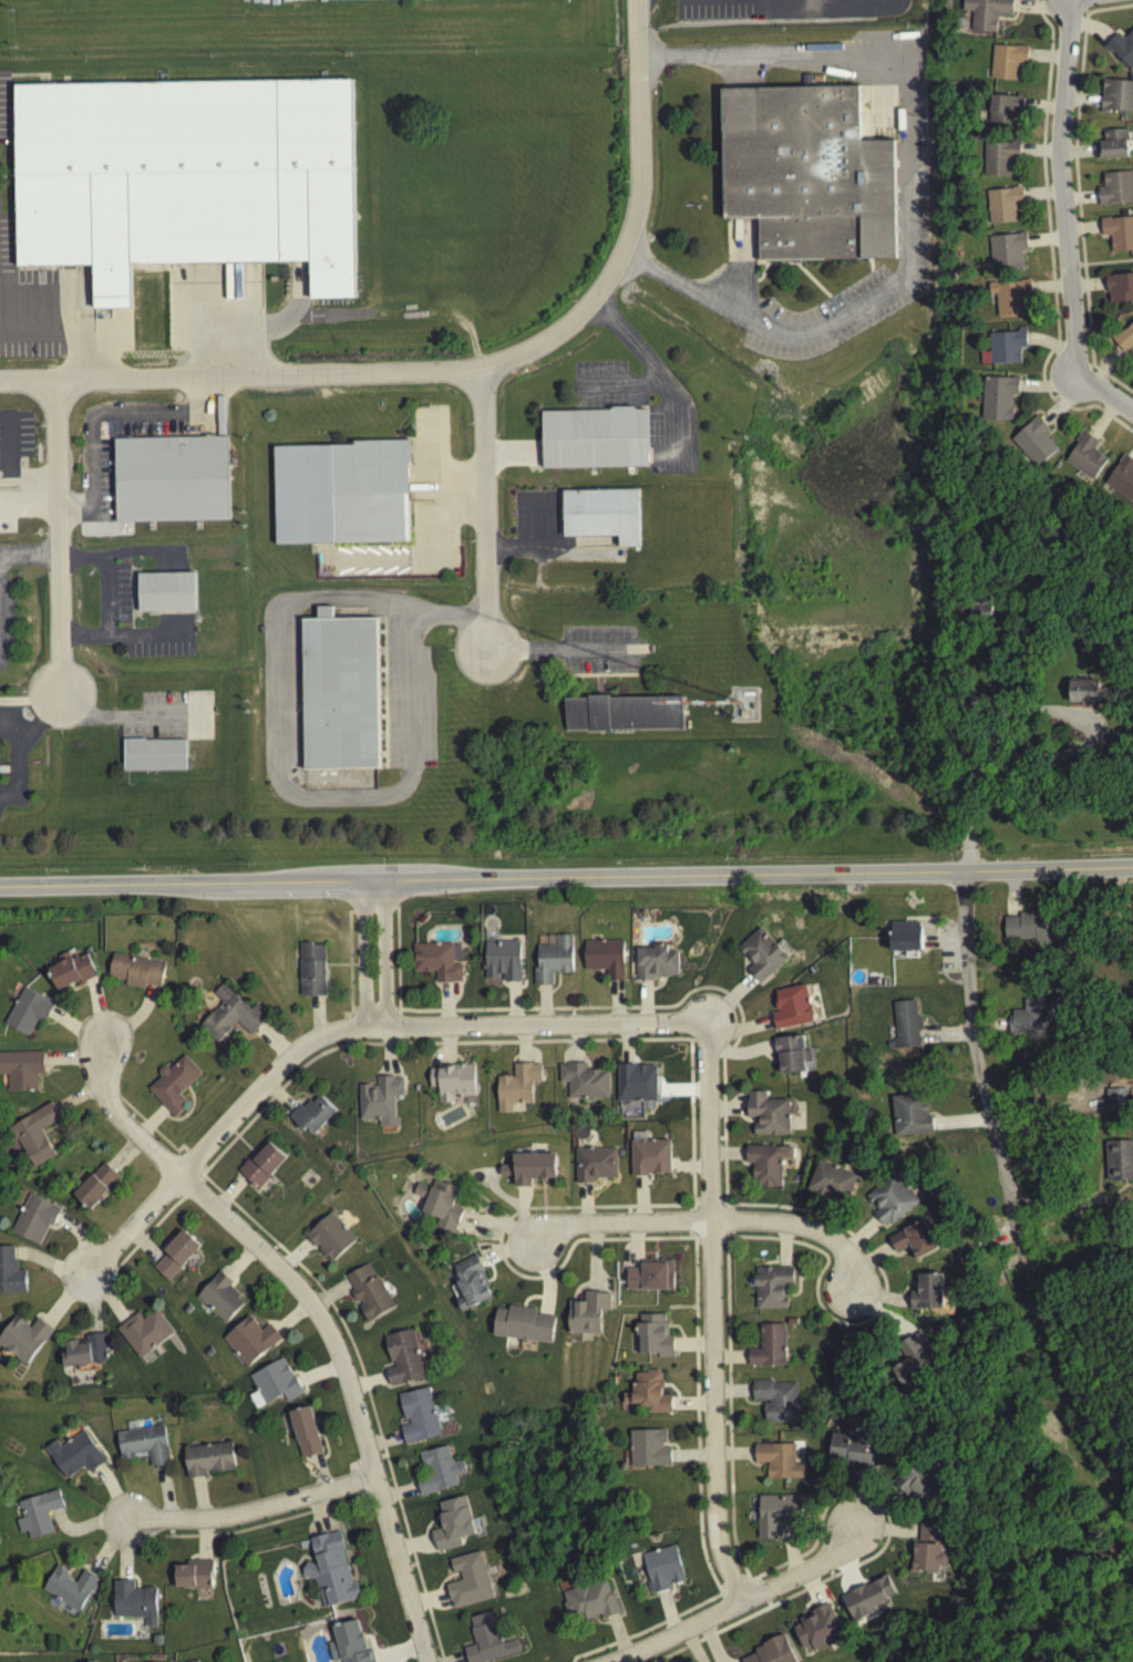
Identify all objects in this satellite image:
road: (1078, 7)
building: (986, 14)
road: (1084, 16)
building: (1122, 53)
building: (1006, 65)
building: (1116, 100)
building: (1005, 113)
road: (1073, 140)
building: (1113, 148)
road: (642, 149)
building: (999, 162)
building: (188, 175)
building: (807, 178)
road: (908, 184)
building: (1116, 192)
building: (1003, 209)
road: (1067, 223)
building: (1117, 237)
road: (1048, 249)
building: (1007, 256)
road: (1108, 266)
building: (1119, 292)
building: (1011, 301)
road: (38, 330)
building: (1124, 341)
building: (1003, 351)
road: (1090, 365)
road: (658, 371)
road: (316, 373)
building: (998, 402)
road: (97, 410)
building: (593, 443)
building: (1034, 445)
building: (1085, 461)
building: (174, 476)
building: (1122, 482)
building: (344, 489)
road: (486, 512)
building: (600, 518)
road: (59, 535)
road: (536, 546)
road: (30, 551)
road: (106, 593)
parking lot: (12, 596)
building: (165, 596)
road: (554, 652)
building: (342, 689)
building: (1085, 695)
building: (977, 702)
road: (1036, 711)
building: (622, 718)
road: (278, 739)
road: (23, 745)
building: (153, 760)
road: (812, 879)
road: (419, 885)
road: (467, 885)
road: (370, 886)
road: (253, 887)
road: (328, 887)
road: (99, 889)
road: (371, 915)
building: (1032, 923)
building: (907, 933)
road: (382, 959)
road: (360, 960)
building: (761, 960)
building: (604, 962)
building: (553, 964)
building: (435, 966)
building: (502, 966)
building: (74, 967)
building: (656, 968)
road: (348, 969)
road: (325, 970)
building: (311, 974)
building: (135, 975)
road: (326, 975)
building: (30, 1009)
building: (791, 1012)
road: (352, 1013)
road: (373, 1013)
road: (394, 1014)
building: (1031, 1014)
building: (231, 1020)
road: (316, 1021)
building: (909, 1021)
road: (342, 1022)
road: (343, 1033)
road: (343, 1034)
road: (690, 1045)
road: (699, 1045)
road: (343, 1047)
road: (625, 1047)
building: (791, 1059)
road: (688, 1062)
road: (632, 1064)
building: (23, 1065)
building: (583, 1085)
building: (452, 1086)
building: (635, 1087)
building: (174, 1088)
road: (659, 1088)
building: (516, 1091)
road: (681, 1095)
building: (1116, 1096)
building: (379, 1105)
building: (315, 1112)
building: (914, 1112)
road: (1050, 1113)
building: (768, 1118)
building: (39, 1131)
road: (152, 1134)
road: (996, 1150)
building: (651, 1154)
building: (1120, 1157)
building: (598, 1160)
building: (266, 1162)
road: (194, 1163)
building: (534, 1165)
building: (766, 1168)
road: (203, 1173)
building: (99, 1181)
road: (202, 1185)
building: (832, 1187)
road: (190, 1194)
building: (443, 1200)
road: (694, 1205)
road: (708, 1205)
road: (721, 1205)
building: (889, 1206)
road: (729, 1211)
road: (689, 1212)
building: (39, 1216)
road: (711, 1225)
road: (689, 1226)
road: (729, 1226)
building: (332, 1233)
road: (146, 1237)
road: (689, 1240)
road: (729, 1240)
building: (914, 1246)
road: (694, 1248)
road: (709, 1248)
road: (722, 1248)
building: (178, 1251)
building: (12, 1269)
building: (651, 1274)
building: (473, 1280)
building: (775, 1283)
building: (371, 1289)
building: (224, 1294)
building: (927, 1298)
road: (814, 1300)
building: (590, 1310)
road: (315, 1315)
road: (710, 1319)
building: (526, 1321)
building: (148, 1329)
building: (656, 1333)
building: (28, 1334)
building: (253, 1336)
building: (771, 1343)
building: (90, 1346)
building: (406, 1354)
building: (918, 1365)
building: (278, 1380)
building: (652, 1389)
building: (779, 1396)
road: (1103, 1398)
building: (420, 1412)
building: (308, 1428)
building: (147, 1439)
building: (651, 1445)
building: (854, 1446)
building: (78, 1452)
building: (213, 1456)
building: (782, 1457)
road: (380, 1462)
road: (367, 1465)
building: (441, 1467)
road: (349, 1469)
building: (923, 1480)
road: (353, 1488)
building: (780, 1510)
building: (40, 1511)
road: (250, 1515)
building: (455, 1520)
road: (262, 1529)
building: (925, 1561)
building: (665, 1566)
building: (334, 1567)
building: (196, 1571)
building: (472, 1577)
road: (742, 1581)
building: (73, 1584)
road: (756, 1584)
road: (731, 1587)
road: (719, 1592)
road: (762, 1597)
building: (136, 1598)
building: (591, 1599)
building: (867, 1601)
road: (744, 1604)
road: (766, 1609)
building: (816, 1631)
building: (490, 1638)
building: (354, 1641)
building: (773, 1653)

